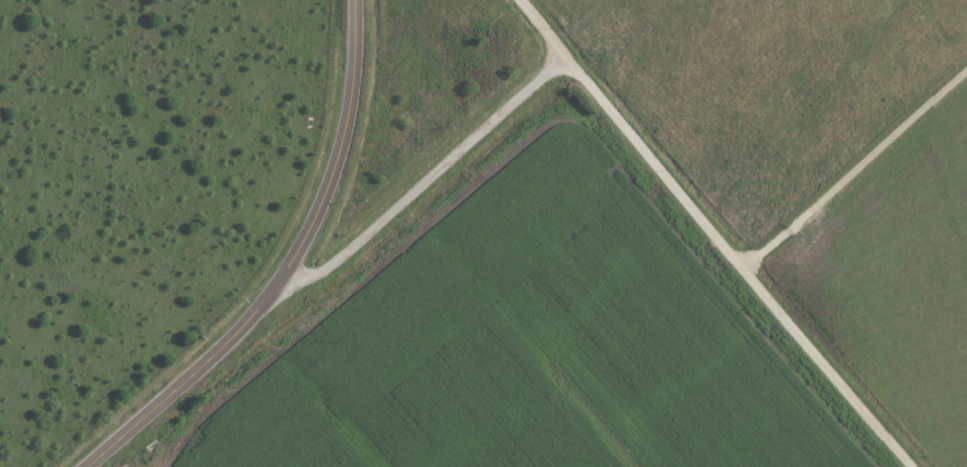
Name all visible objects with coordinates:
road: (854, 164)
road: (429, 179)
road: (717, 234)
road: (289, 270)

